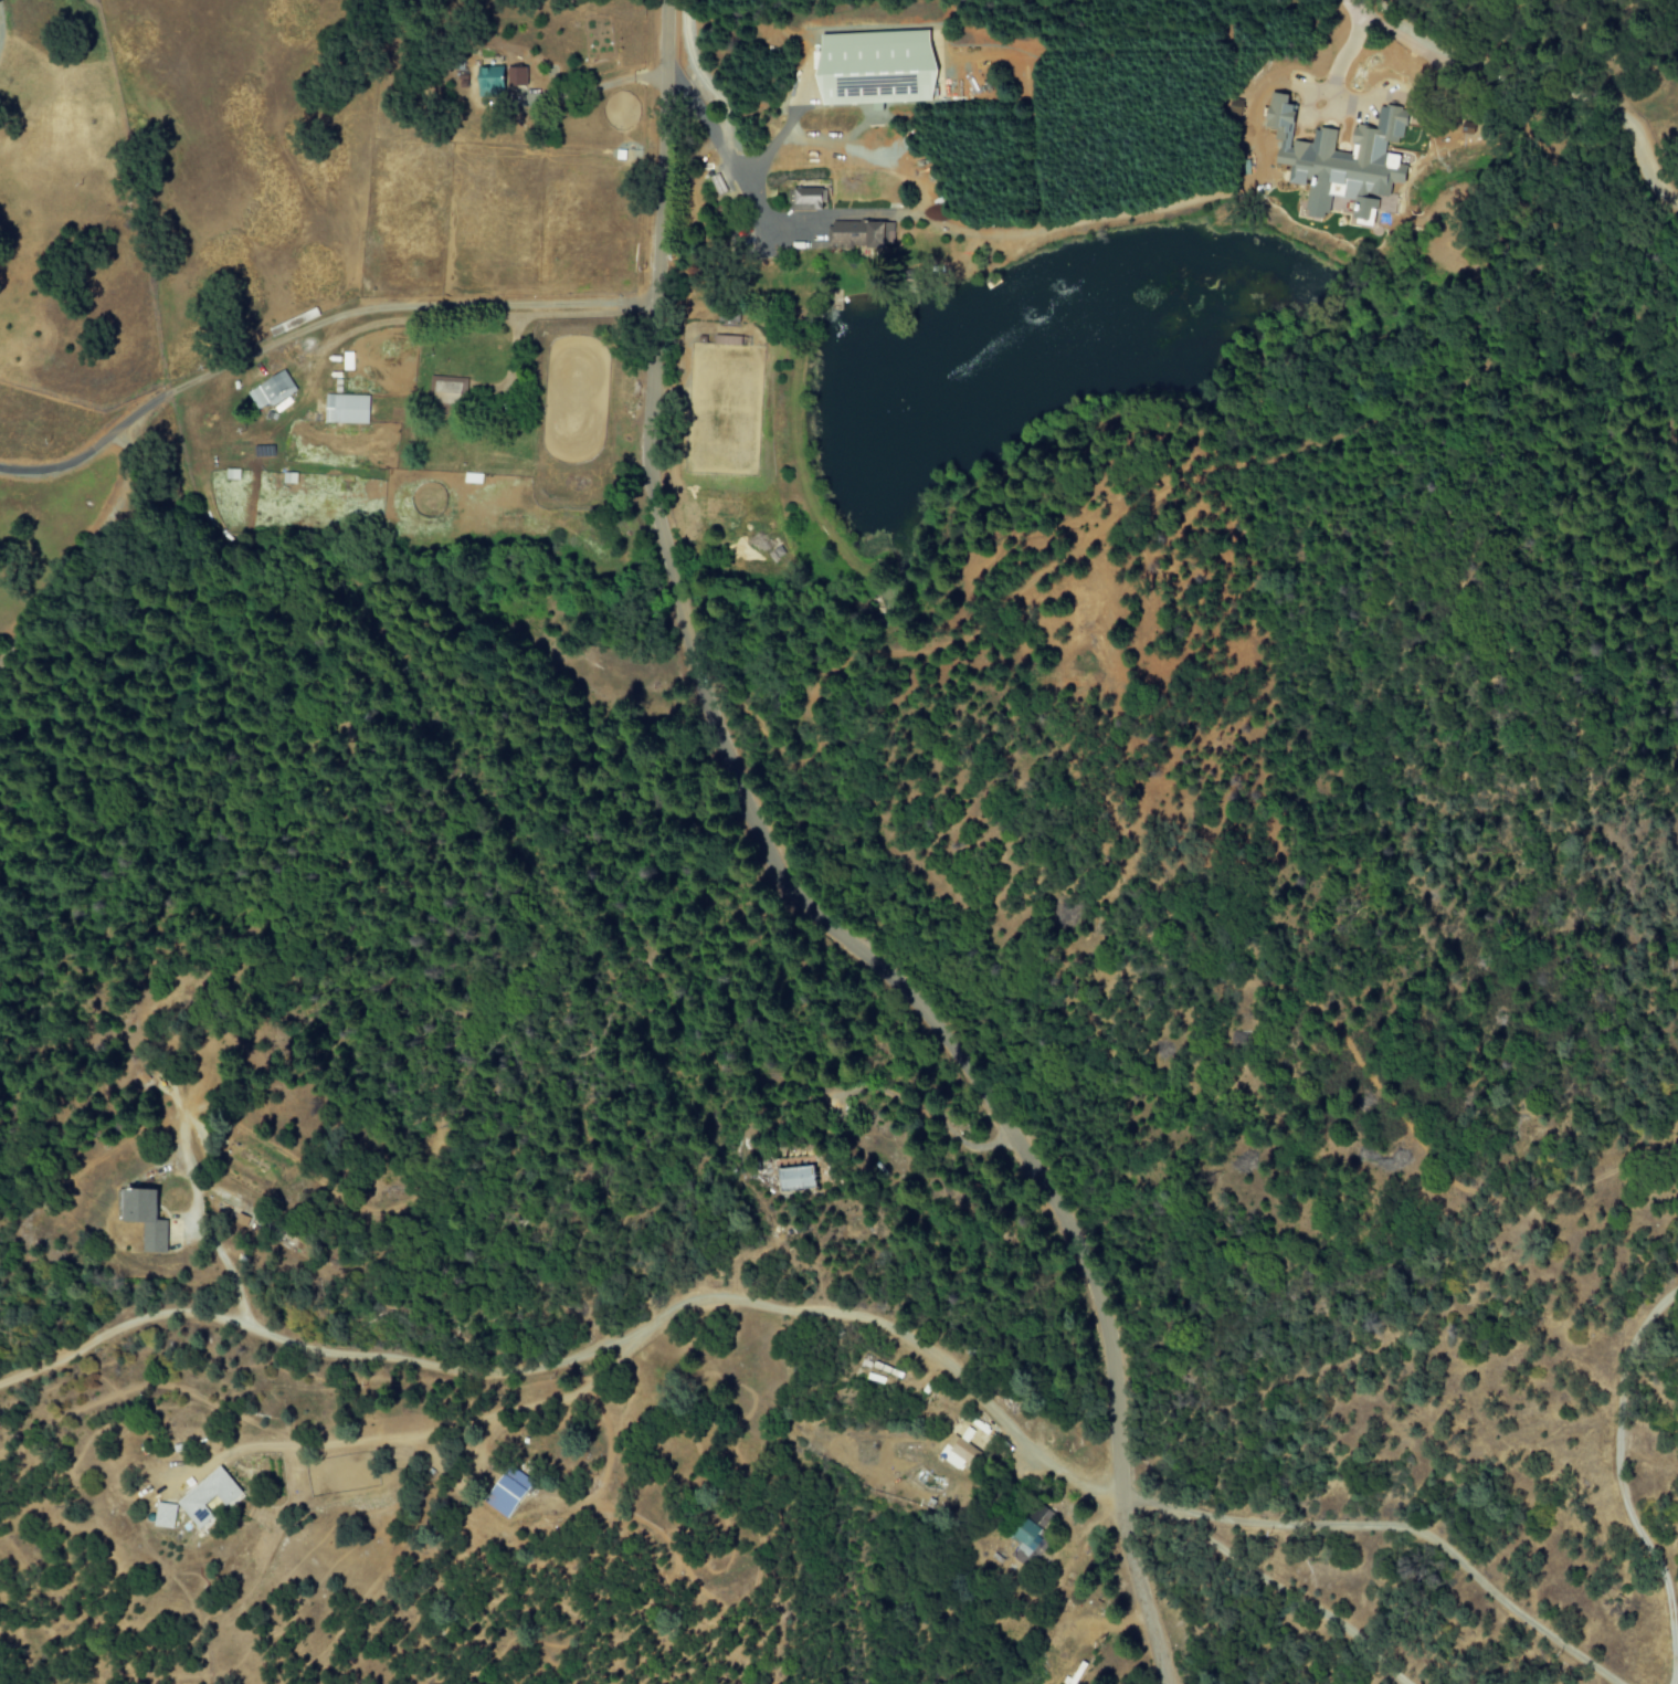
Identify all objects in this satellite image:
building: (874, 67)
building: (515, 76)
building: (487, 82)
building: (1340, 161)
building: (808, 199)
building: (859, 234)
road: (460, 318)
road: (306, 325)
building: (448, 389)
building: (270, 390)
building: (346, 408)
road: (805, 880)
building: (795, 1178)
building: (145, 1218)
road: (587, 1354)
building: (959, 1451)
building: (506, 1492)
building: (202, 1496)
road: (1147, 1501)
building: (158, 1515)
building: (1028, 1530)
road: (1421, 1533)
road: (1292, 1594)

